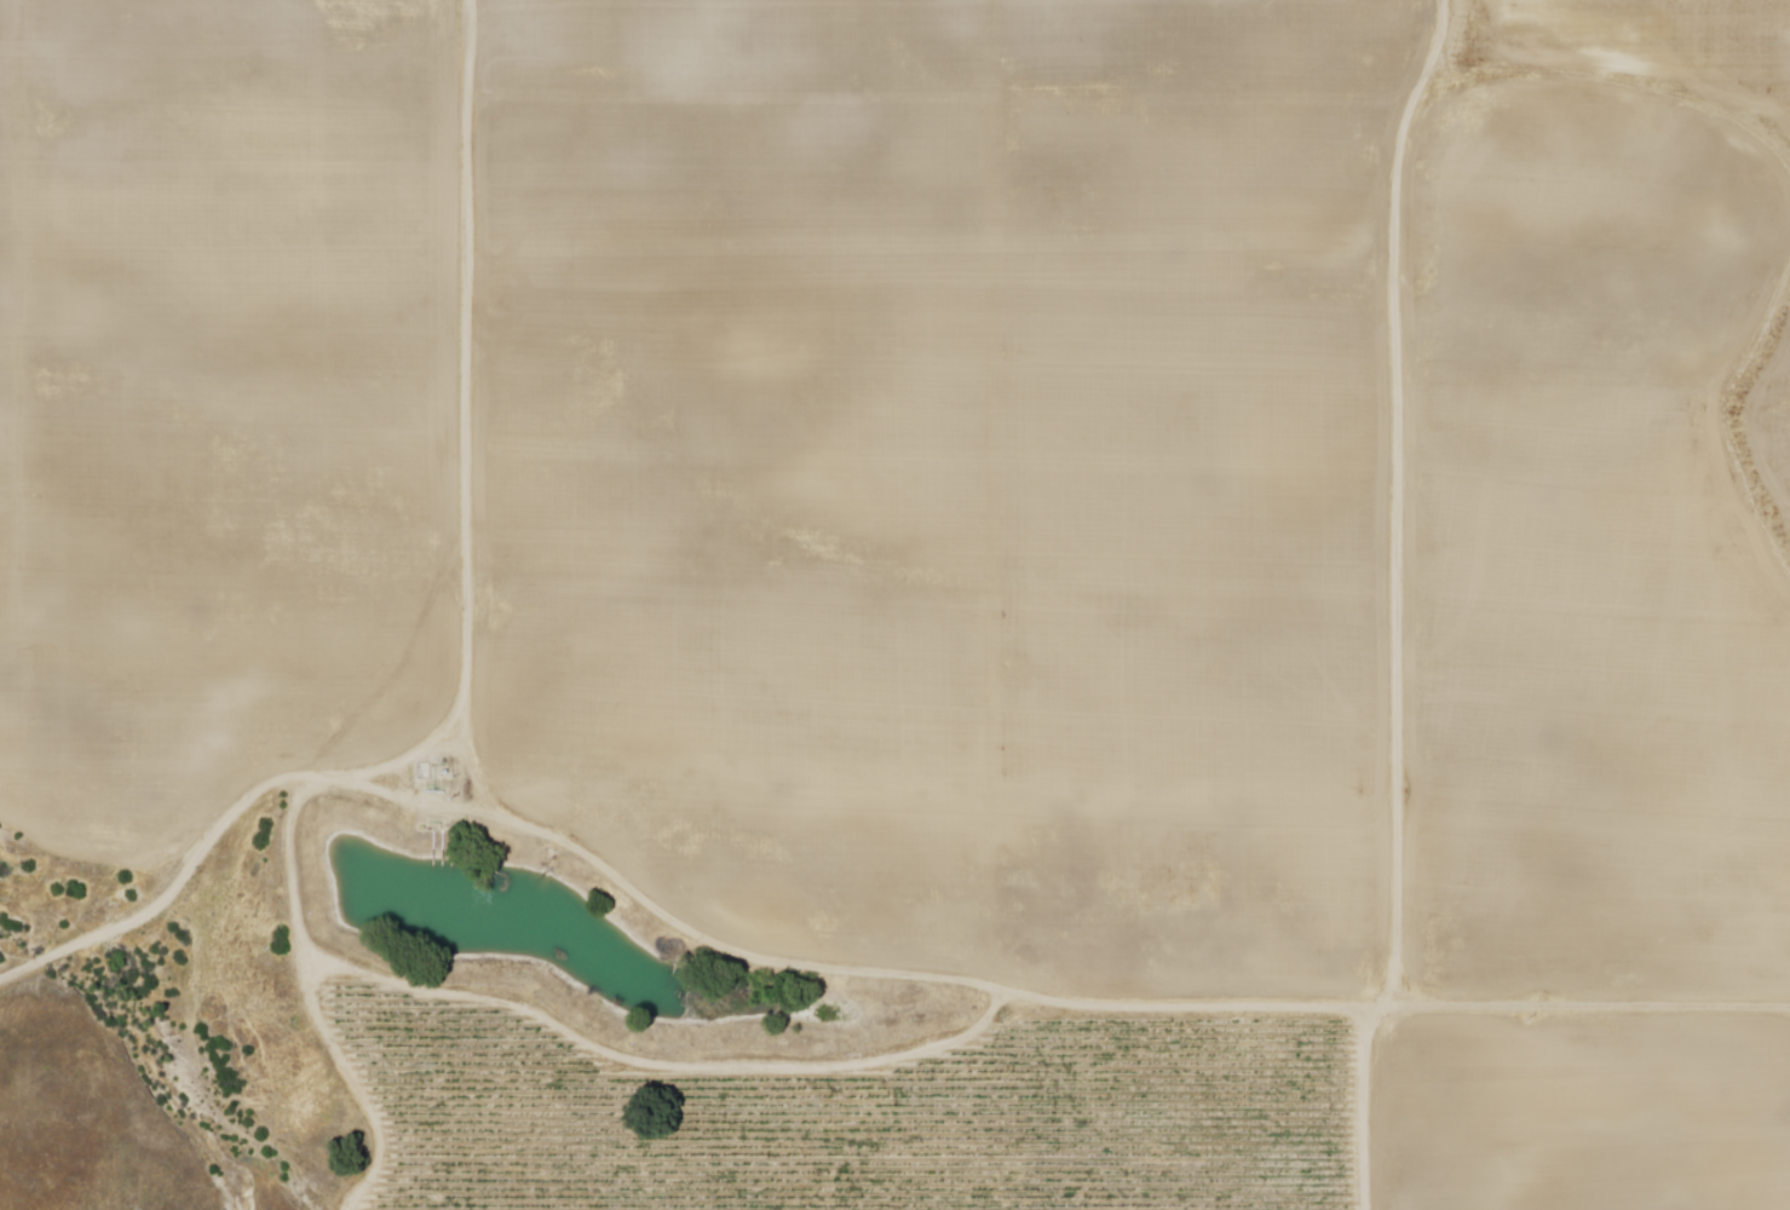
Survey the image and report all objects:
road: (1619, 86)
road: (1721, 419)
road: (1397, 494)
road: (840, 963)

